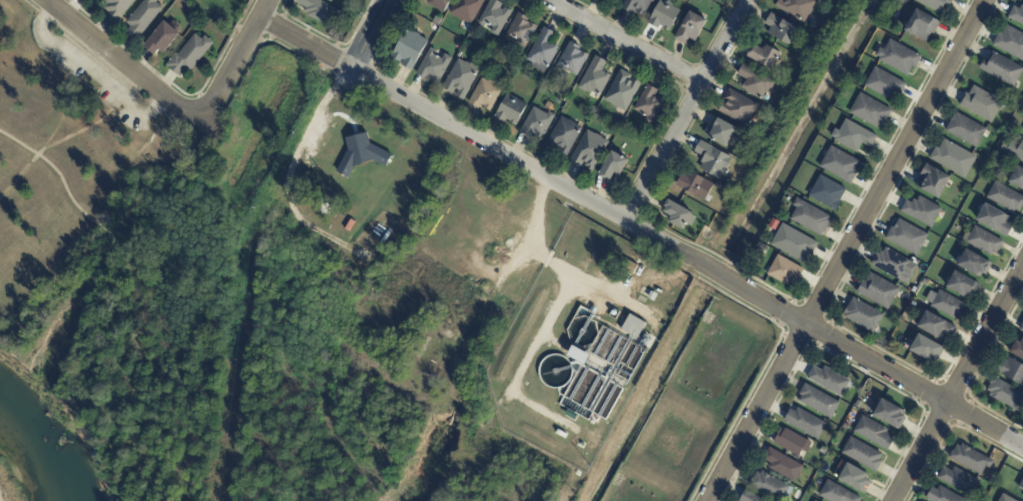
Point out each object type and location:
building: (616, 0)
building: (329, 1)
building: (440, 3)
building: (935, 4)
building: (636, 6)
building: (120, 9)
building: (796, 9)
building: (465, 10)
building: (319, 13)
building: (1016, 14)
building: (663, 17)
building: (494, 18)
building: (146, 19)
building: (832, 23)
building: (921, 27)
building: (691, 29)
building: (781, 29)
building: (519, 31)
road: (367, 34)
building: (430, 37)
building: (469, 37)
building: (167, 38)
road: (626, 42)
building: (1010, 42)
road: (304, 43)
building: (409, 50)
building: (542, 52)
building: (194, 56)
building: (764, 56)
building: (897, 59)
building: (573, 60)
road: (120, 63)
road: (233, 63)
building: (432, 67)
building: (1001, 69)
road: (91, 71)
building: (459, 79)
building: (593, 79)
building: (753, 83)
building: (883, 85)
building: (621, 92)
building: (565, 93)
building: (485, 94)
building: (981, 103)
building: (649, 106)
road: (64, 109)
building: (737, 109)
road: (685, 110)
building: (510, 111)
building: (869, 112)
building: (536, 124)
building: (1012, 125)
building: (965, 129)
building: (719, 134)
building: (1009, 134)
building: (749, 137)
building: (852, 137)
road: (57, 138)
building: (562, 138)
park: (55, 148)
building: (1015, 150)
building: (588, 152)
building: (360, 153)
building: (953, 158)
road: (122, 160)
building: (711, 161)
building: (998, 162)
building: (839, 166)
building: (612, 167)
building: (1016, 176)
building: (932, 182)
building: (694, 186)
building: (826, 194)
building: (1005, 197)
building: (921, 211)
road: (536, 214)
building: (677, 217)
building: (809, 219)
building: (994, 220)
building: (773, 226)
building: (906, 237)
building: (983, 240)
building: (792, 245)
road: (846, 250)
building: (760, 251)
road: (685, 256)
building: (973, 263)
building: (893, 264)
building: (784, 272)
road: (576, 276)
building: (926, 283)
building: (961, 285)
building: (877, 291)
building: (651, 296)
road: (246, 300)
building: (912, 304)
building: (948, 305)
building: (593, 311)
building: (862, 315)
building: (934, 326)
building: (634, 327)
building: (1021, 329)
building: (925, 348)
building: (1017, 349)
building: (578, 354)
building: (1011, 371)
building: (829, 381)
road: (958, 382)
building: (1006, 395)
park: (307, 401)
building: (818, 402)
building: (888, 414)
building: (804, 423)
building: (845, 427)
building: (873, 433)
building: (790, 442)
building: (822, 450)
building: (862, 454)
building: (970, 459)
river: (31, 464)
building: (781, 465)
building: (853, 479)
building: (959, 481)
building: (1021, 484)
building: (768, 486)
building: (801, 493)
building: (836, 493)
building: (941, 495)
building: (749, 497)
building: (1005, 498)
building: (814, 500)

